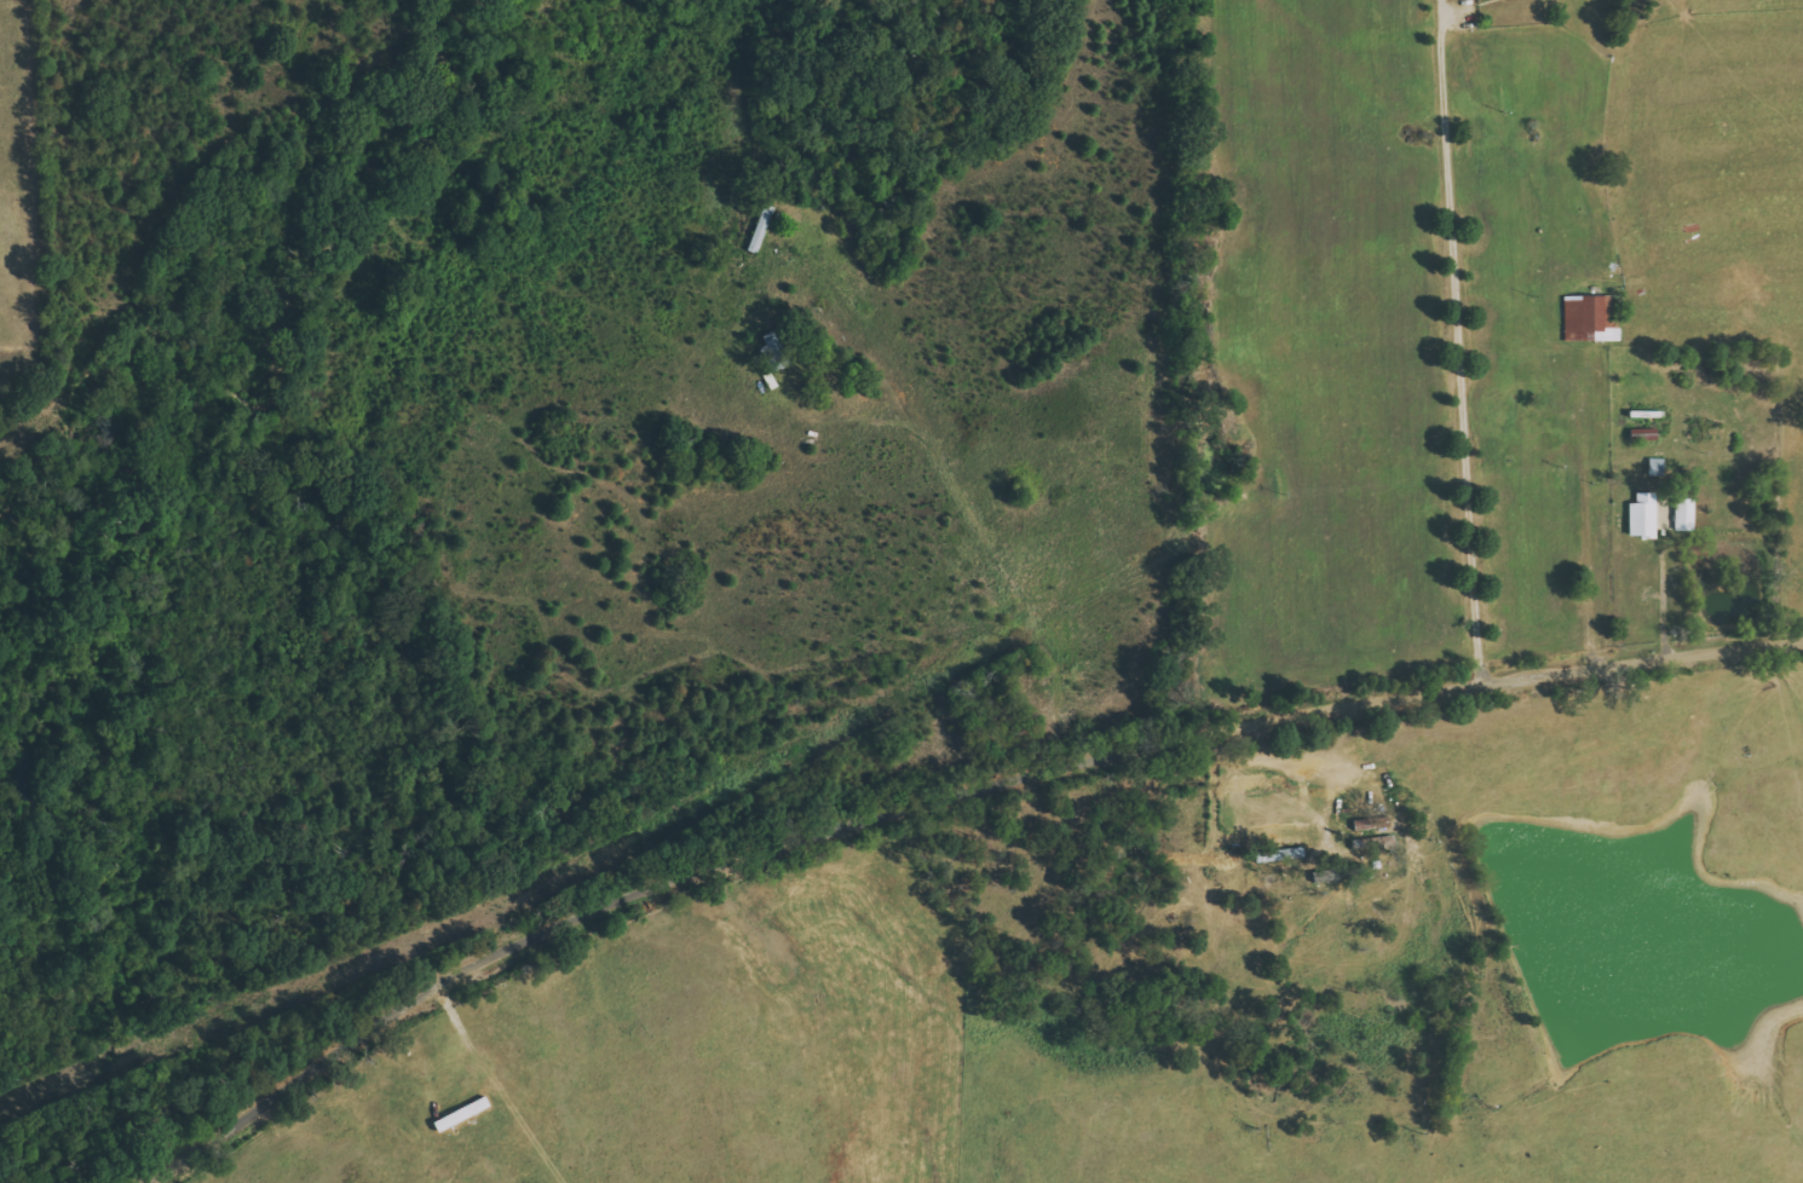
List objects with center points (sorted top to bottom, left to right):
building: (1591, 318)
road: (1457, 341)
power tower: (1567, 466)
power tower: (1280, 492)
building: (1684, 514)
building: (1643, 515)
road: (1665, 598)
power tower: (1012, 639)
road: (939, 797)
building: (1279, 855)
power tower: (503, 907)
road: (526, 1085)

